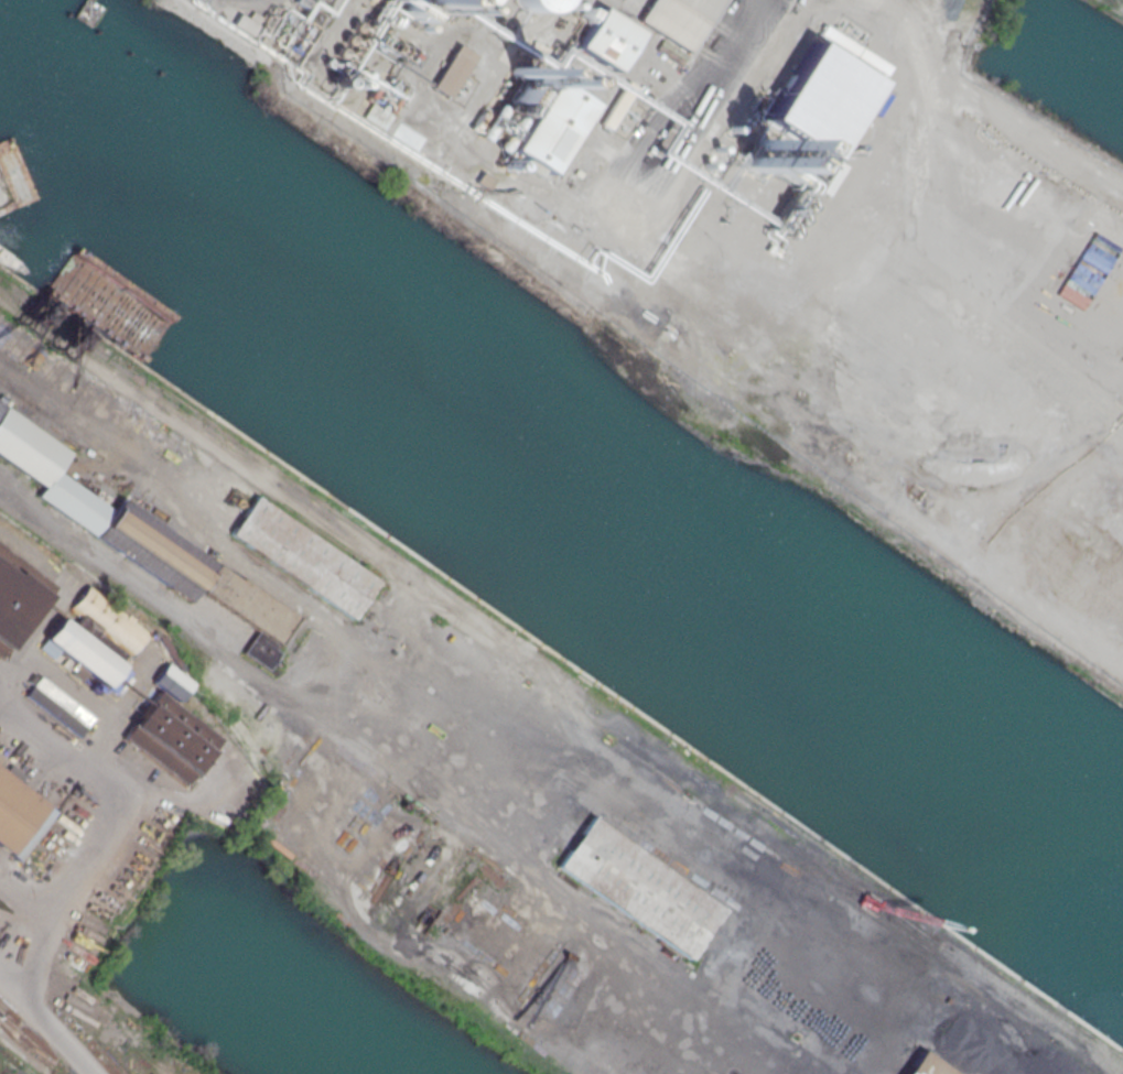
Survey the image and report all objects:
road: (257, 0)
building: (463, 3)
building: (534, 4)
building: (677, 23)
building: (605, 39)
building: (786, 79)
building: (617, 105)
building: (853, 120)
building: (551, 127)
building: (267, 130)
building: (142, 539)
building: (303, 557)
building: (15, 593)
building: (96, 638)
building: (170, 682)
building: (56, 706)
building: (169, 738)
building: (249, 746)
building: (18, 814)
road: (71, 879)
building: (639, 887)
building: (922, 1066)

